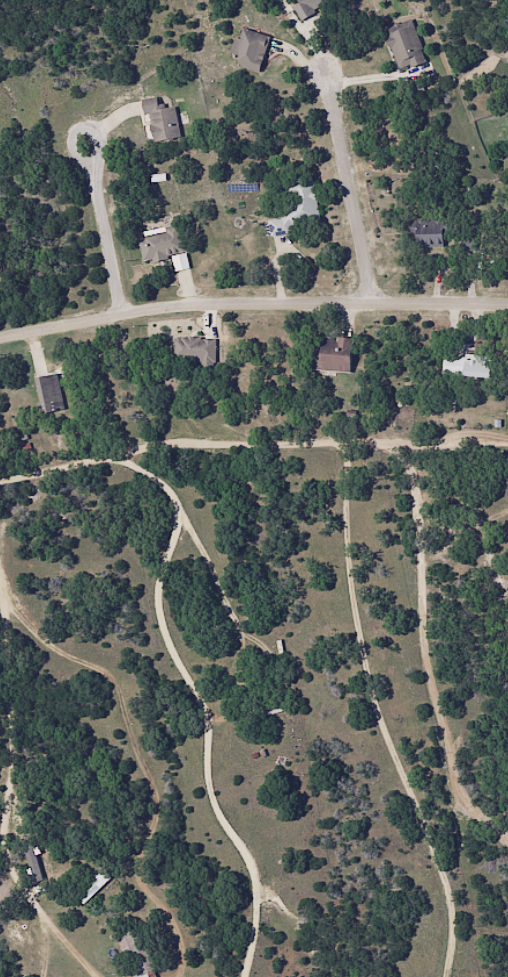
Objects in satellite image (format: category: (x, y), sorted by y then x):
building: (307, 7)
building: (404, 45)
building: (249, 49)
building: (160, 121)
road: (353, 178)
building: (297, 208)
road: (110, 220)
building: (425, 233)
building: (160, 243)
road: (252, 308)
building: (195, 351)
building: (333, 353)
building: (465, 366)
building: (47, 393)
road: (402, 464)
road: (32, 628)
road: (202, 708)
road: (375, 717)
building: (91, 885)
building: (137, 953)

